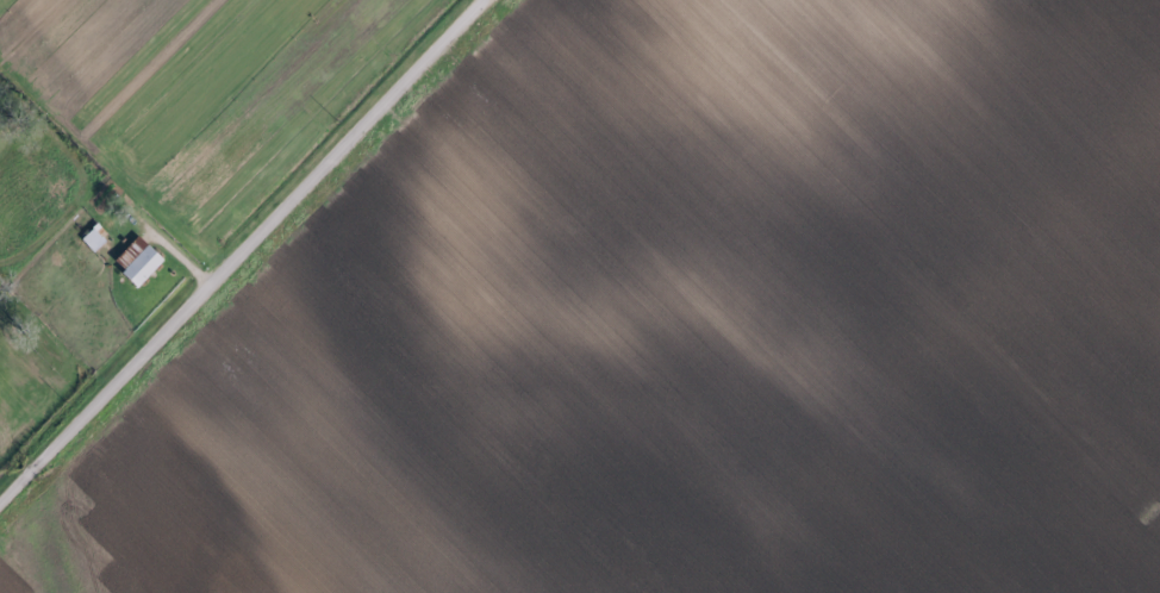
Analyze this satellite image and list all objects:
road: (241, 248)
building: (136, 266)

